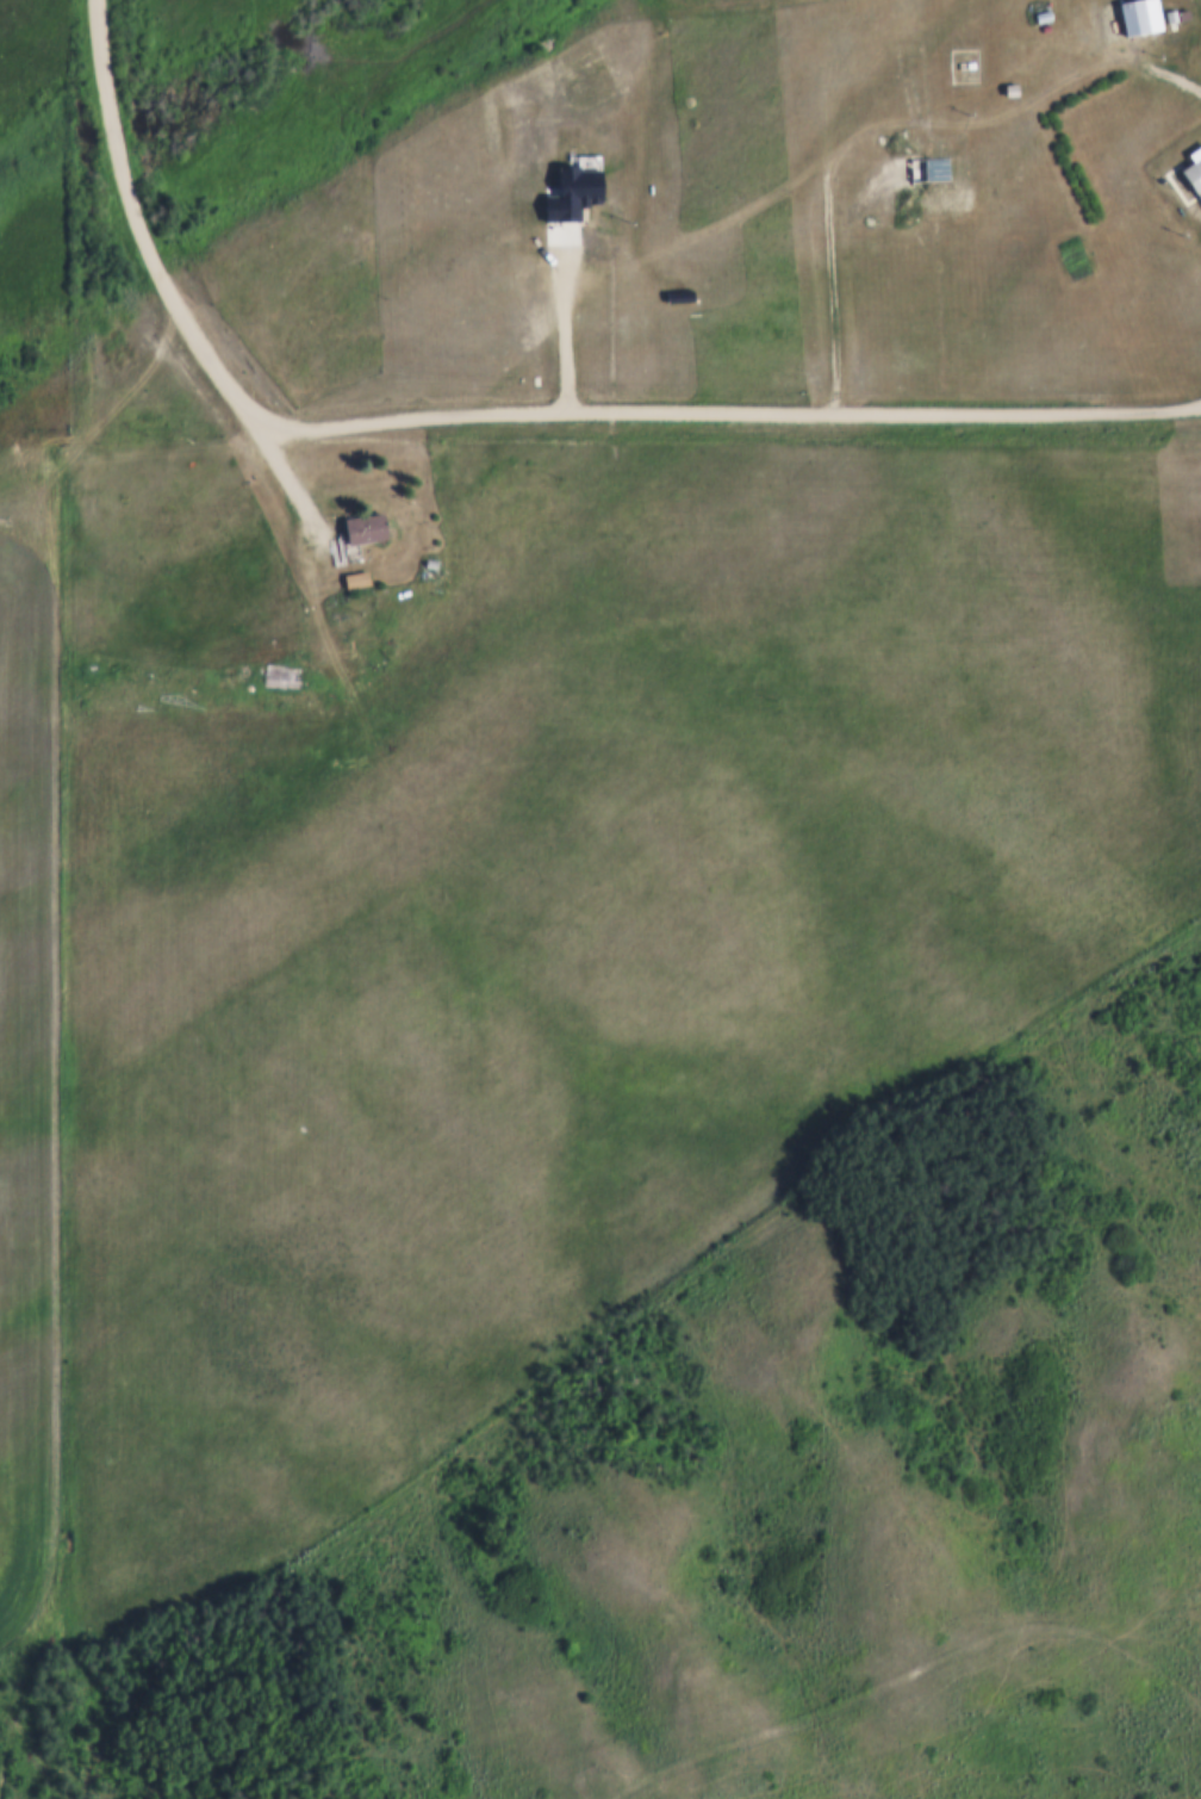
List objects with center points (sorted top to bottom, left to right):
building: (1184, 11)
building: (1171, 12)
building: (1132, 14)
road: (1176, 74)
building: (929, 166)
building: (1193, 167)
road: (499, 415)
road: (303, 491)
building: (363, 525)
building: (355, 576)
building: (281, 670)
road: (35, 1005)

